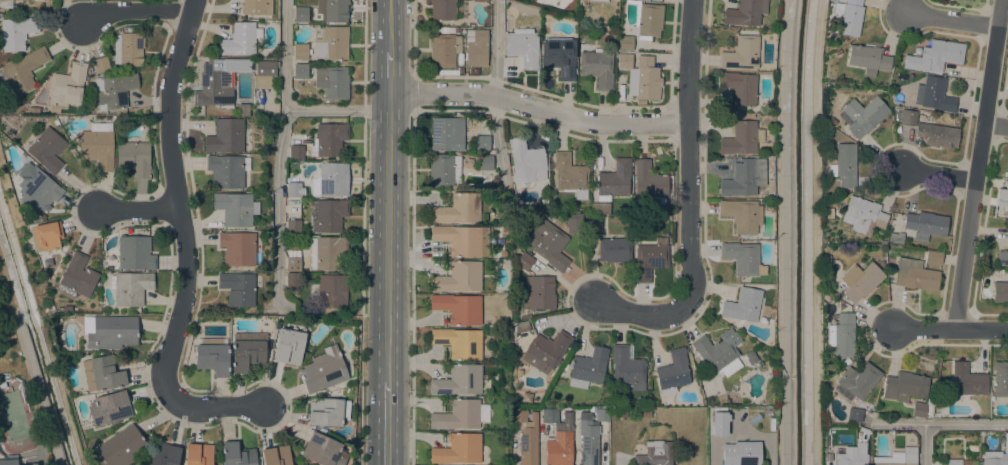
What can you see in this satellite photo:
building: (481, 0)
building: (599, 0)
building: (968, 0)
building: (6, 4)
building: (257, 6)
building: (333, 9)
building: (443, 10)
road: (133, 11)
building: (745, 12)
building: (300, 14)
building: (848, 17)
building: (648, 20)
road: (953, 20)
road: (391, 25)
building: (447, 30)
building: (16, 32)
road: (415, 36)
building: (239, 39)
building: (625, 42)
building: (331, 43)
building: (522, 46)
building: (476, 47)
building: (128, 48)
road: (496, 48)
building: (444, 50)
building: (300, 51)
building: (837, 51)
building: (741, 53)
building: (559, 56)
building: (935, 56)
building: (868, 59)
building: (624, 61)
building: (101, 65)
building: (598, 68)
building: (301, 70)
building: (22, 71)
building: (448, 71)
building: (473, 71)
road: (390, 72)
building: (265, 74)
building: (645, 80)
building: (218, 81)
building: (332, 81)
building: (67, 87)
building: (740, 87)
building: (115, 90)
building: (933, 94)
road: (539, 108)
building: (243, 109)
building: (31, 110)
road: (337, 110)
building: (861, 116)
building: (138, 121)
road: (996, 124)
building: (930, 130)
building: (447, 133)
building: (226, 136)
building: (741, 138)
building: (328, 140)
building: (482, 142)
road: (497, 143)
building: (98, 145)
building: (47, 149)
road: (688, 149)
road: (278, 150)
building: (296, 152)
building: (134, 158)
building: (485, 162)
building: (526, 162)
building: (843, 165)
road: (978, 165)
building: (227, 170)
building: (444, 170)
building: (570, 175)
road: (938, 175)
building: (744, 177)
building: (331, 179)
building: (614, 180)
building: (649, 182)
building: (37, 189)
building: (294, 189)
building: (1002, 194)
building: (599, 207)
building: (235, 208)
road: (139, 209)
building: (458, 209)
building: (330, 215)
building: (741, 215)
building: (861, 215)
building: (573, 222)
building: (925, 224)
building: (293, 226)
building: (594, 226)
building: (505, 229)
road: (362, 232)
road: (815, 232)
building: (1007, 232)
building: (45, 235)
building: (895, 237)
road: (389, 238)
building: (462, 239)
road: (191, 245)
building: (549, 245)
building: (239, 247)
building: (615, 249)
building: (135, 252)
building: (326, 252)
building: (741, 257)
building: (933, 257)
building: (1002, 258)
building: (650, 259)
building: (293, 260)
building: (524, 260)
building: (825, 263)
building: (881, 263)
building: (915, 275)
building: (77, 276)
building: (458, 277)
building: (293, 279)
building: (860, 281)
road: (7, 286)
building: (130, 287)
road: (412, 287)
building: (238, 288)
building: (330, 290)
building: (542, 292)
building: (1000, 292)
building: (743, 305)
building: (458, 307)
road: (641, 313)
building: (521, 326)
road: (950, 329)
building: (109, 331)
building: (841, 334)
building: (459, 342)
building: (289, 346)
building: (247, 351)
building: (546, 351)
building: (717, 354)
building: (212, 355)
building: (751, 357)
building: (564, 366)
building: (627, 367)
building: (588, 368)
building: (323, 370)
building: (519, 372)
building: (673, 372)
building: (102, 373)
building: (1000, 379)
building: (458, 380)
building: (857, 381)
building: (968, 381)
building: (904, 386)
road: (38, 388)
building: (932, 388)
road: (62, 394)
building: (108, 407)
building: (919, 409)
building: (327, 411)
building: (519, 414)
building: (620, 414)
building: (646, 414)
building: (854, 414)
building: (460, 415)
park: (17, 418)
building: (719, 421)
road: (387, 423)
road: (940, 423)
building: (322, 430)
building: (591, 435)
building: (558, 437)
building: (1005, 441)
building: (529, 442)
road: (924, 444)
building: (121, 446)
building: (973, 448)
building: (458, 449)
building: (323, 450)
building: (654, 453)
building: (741, 453)
building: (164, 454)
building: (198, 454)
building: (237, 454)
building: (276, 455)
building: (853, 456)
building: (899, 457)
building: (995, 458)
building: (8, 462)
building: (961, 462)
building: (29, 464)

